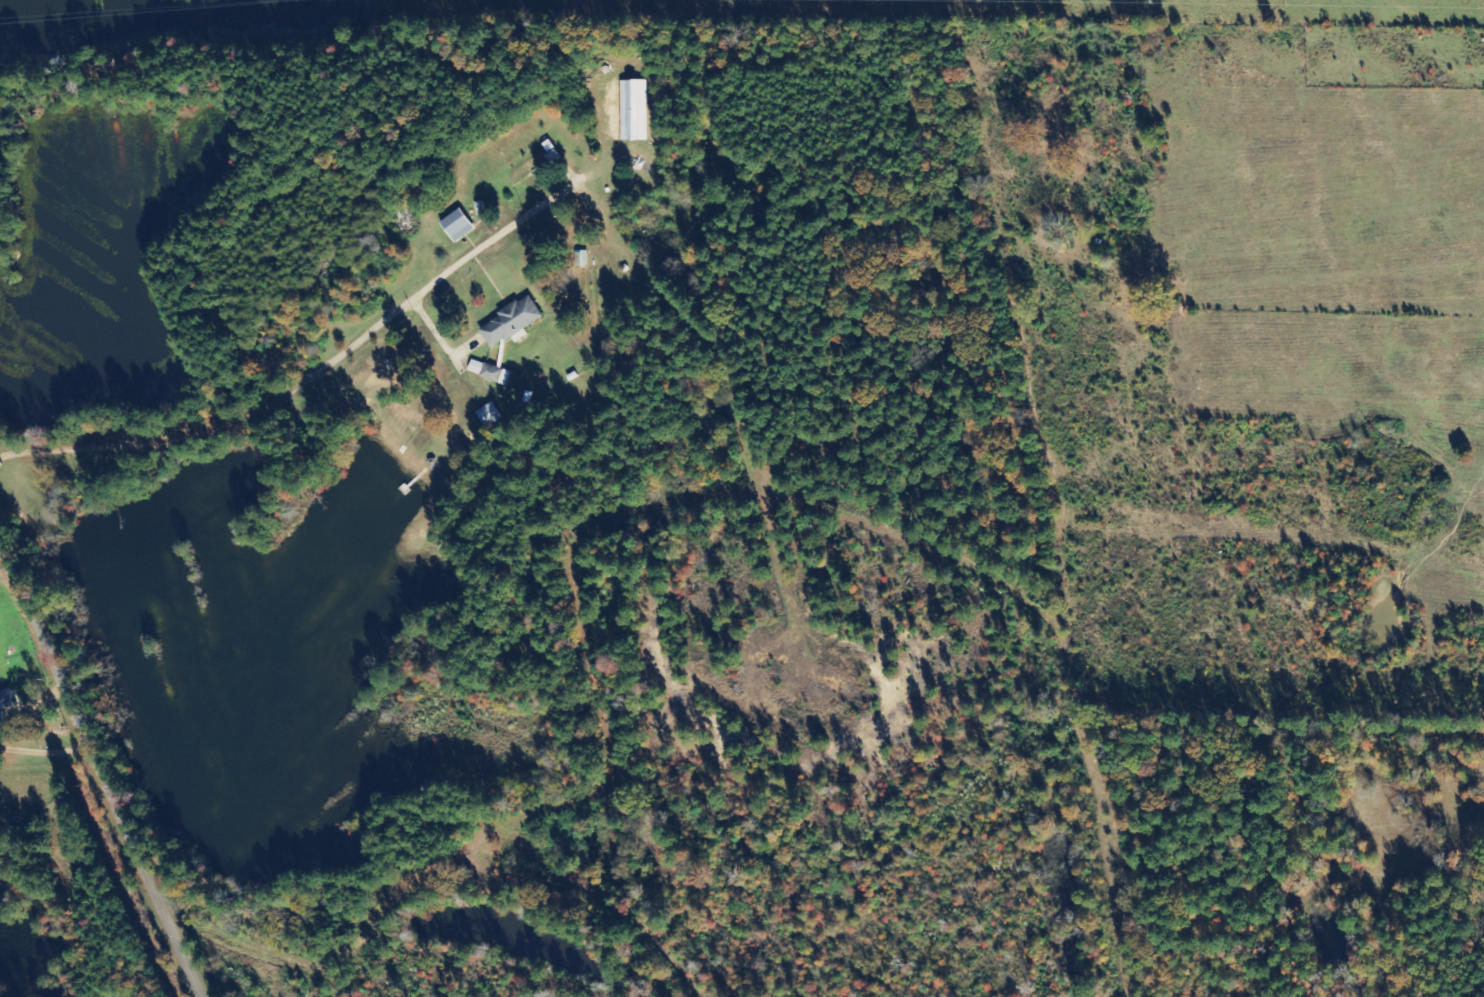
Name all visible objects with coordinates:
building: (631, 107)
building: (457, 225)
building: (510, 322)
building: (489, 372)
building: (489, 415)
road: (355, 518)
road: (36, 688)
building: (5, 703)
road: (103, 761)

